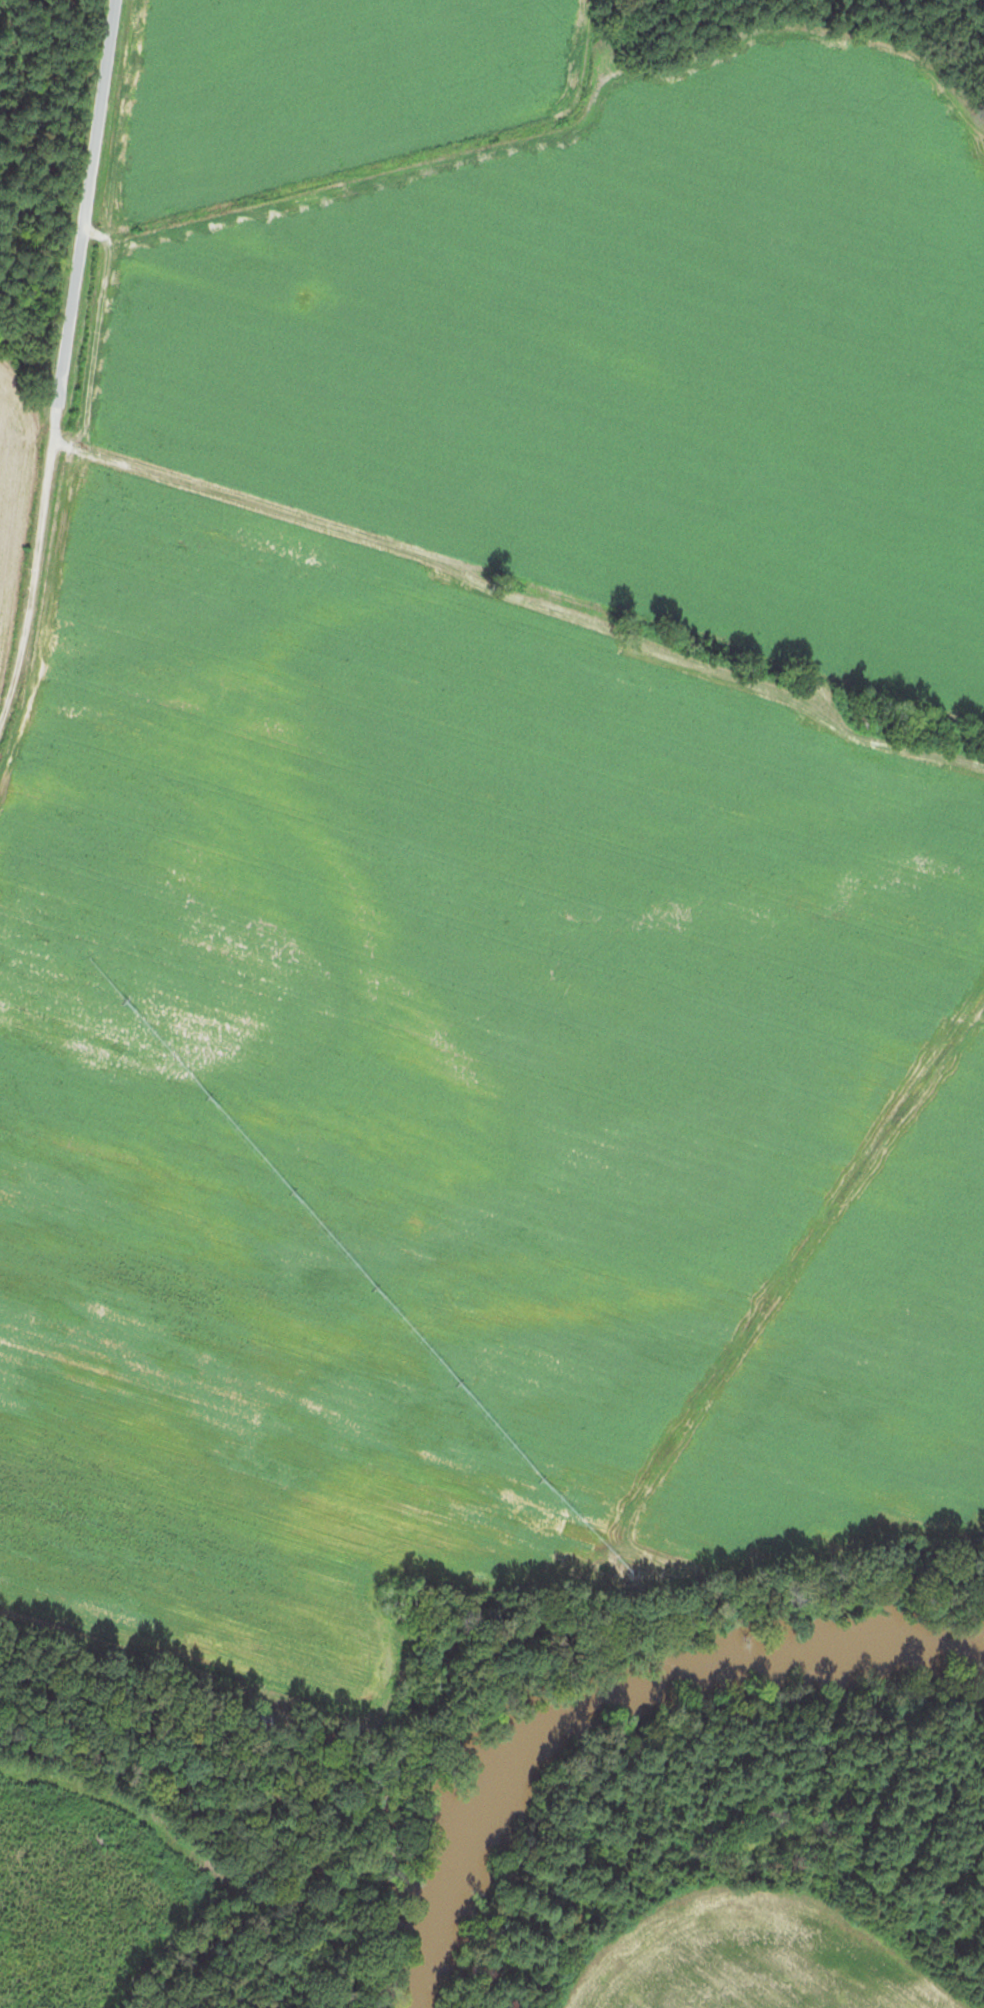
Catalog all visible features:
road: (80, 219)
road: (384, 544)
river: (630, 1691)
river: (417, 1976)

